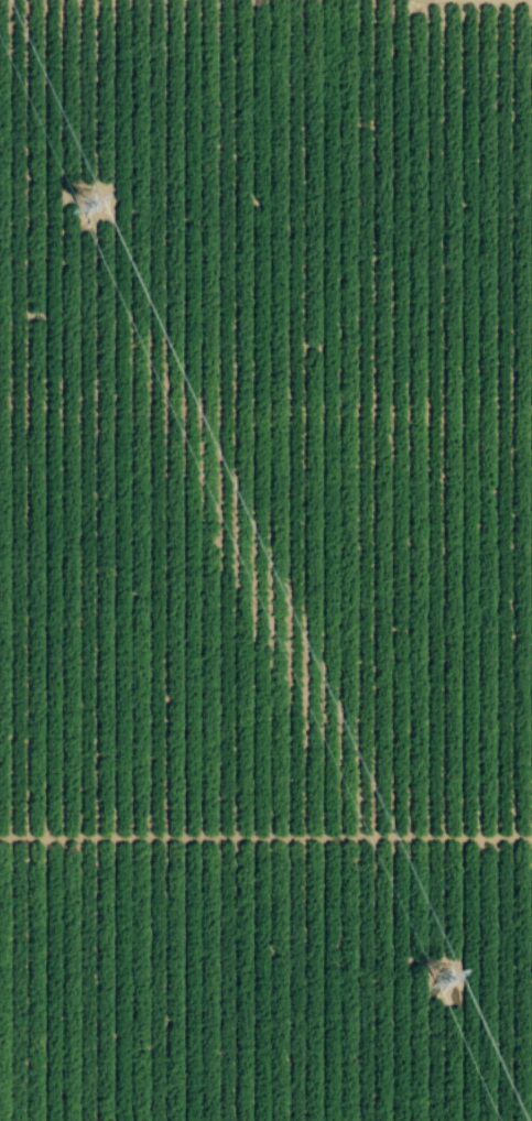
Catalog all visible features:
power tower: (90, 210)
road: (265, 838)
power tower: (444, 983)

